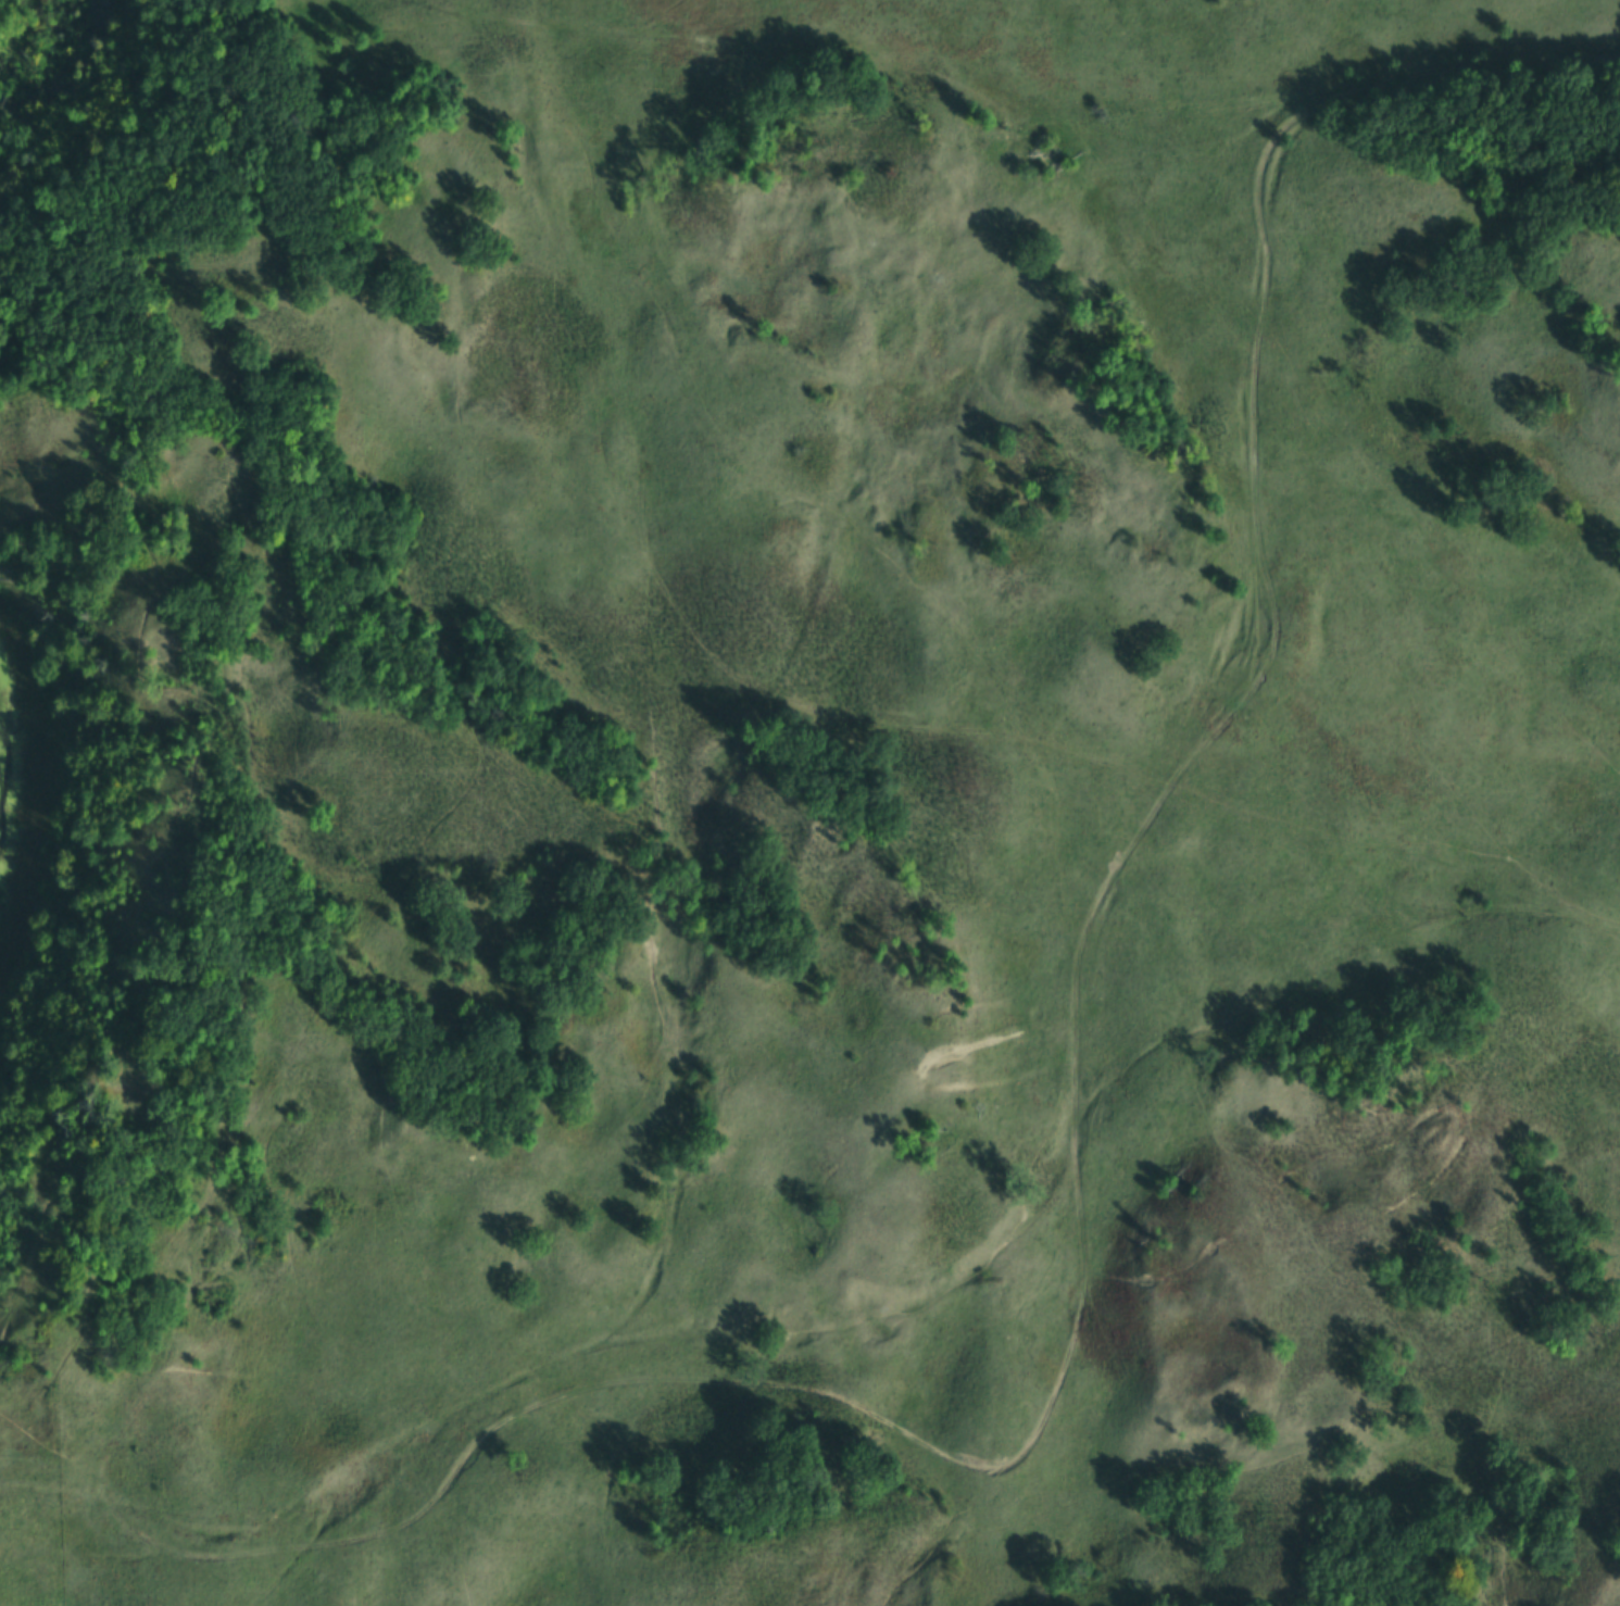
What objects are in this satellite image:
road: (1080, 1195)

